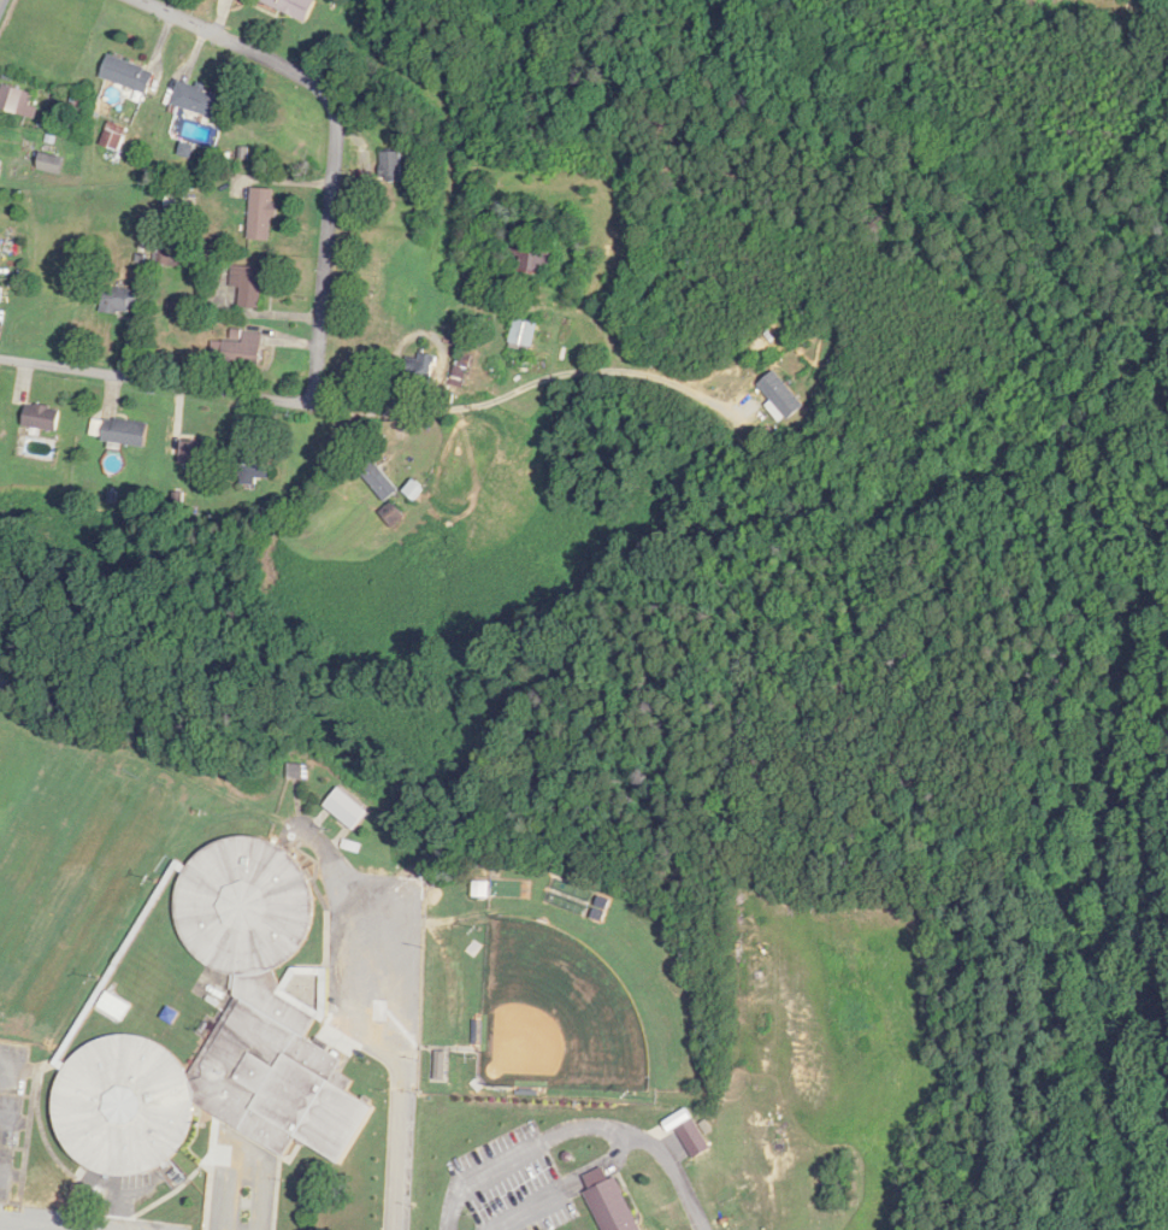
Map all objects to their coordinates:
road: (0, 0)
building: (294, 6)
building: (126, 73)
building: (197, 99)
building: (17, 100)
building: (51, 163)
building: (0, 166)
building: (391, 166)
building: (261, 213)
building: (529, 254)
building: (248, 286)
road: (322, 299)
building: (119, 301)
building: (523, 334)
building: (242, 348)
building: (418, 371)
road: (532, 382)
building: (781, 395)
building: (41, 417)
building: (124, 431)
building: (196, 465)
building: (253, 466)
building: (378, 478)
building: (413, 490)
building: (391, 514)
building: (346, 808)
building: (482, 889)
road: (365, 901)
building: (114, 1006)
park: (556, 1014)
building: (222, 1036)
road: (10, 1064)
road: (578, 1125)
building: (694, 1137)
road: (399, 1149)
road: (564, 1182)
road: (238, 1194)
building: (612, 1202)
road: (28, 1225)
road: (494, 1229)

